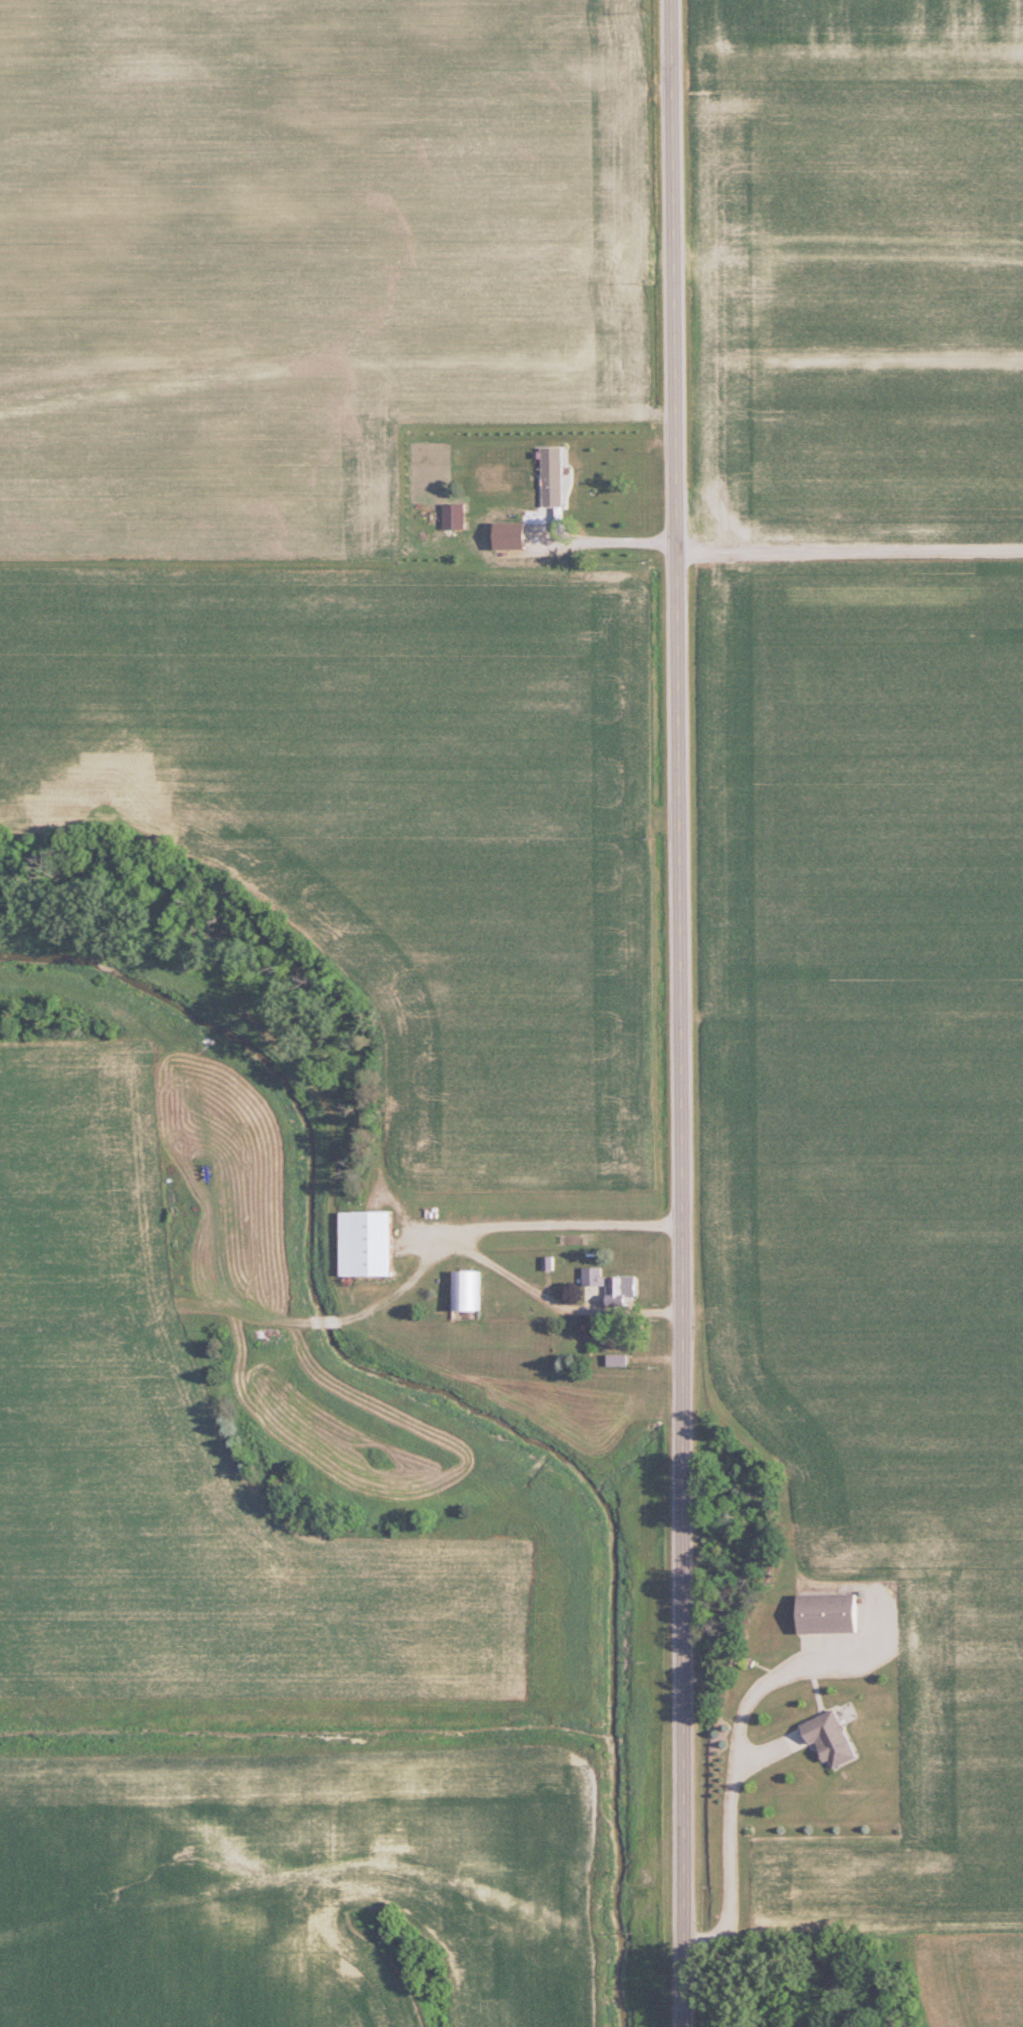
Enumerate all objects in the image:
building: (519, 538)
road: (612, 541)
road: (681, 1013)
building: (365, 1243)
road: (459, 1245)
building: (606, 1286)
building: (466, 1290)
building: (617, 1359)
building: (826, 1613)
building: (829, 1738)
road: (722, 1769)

